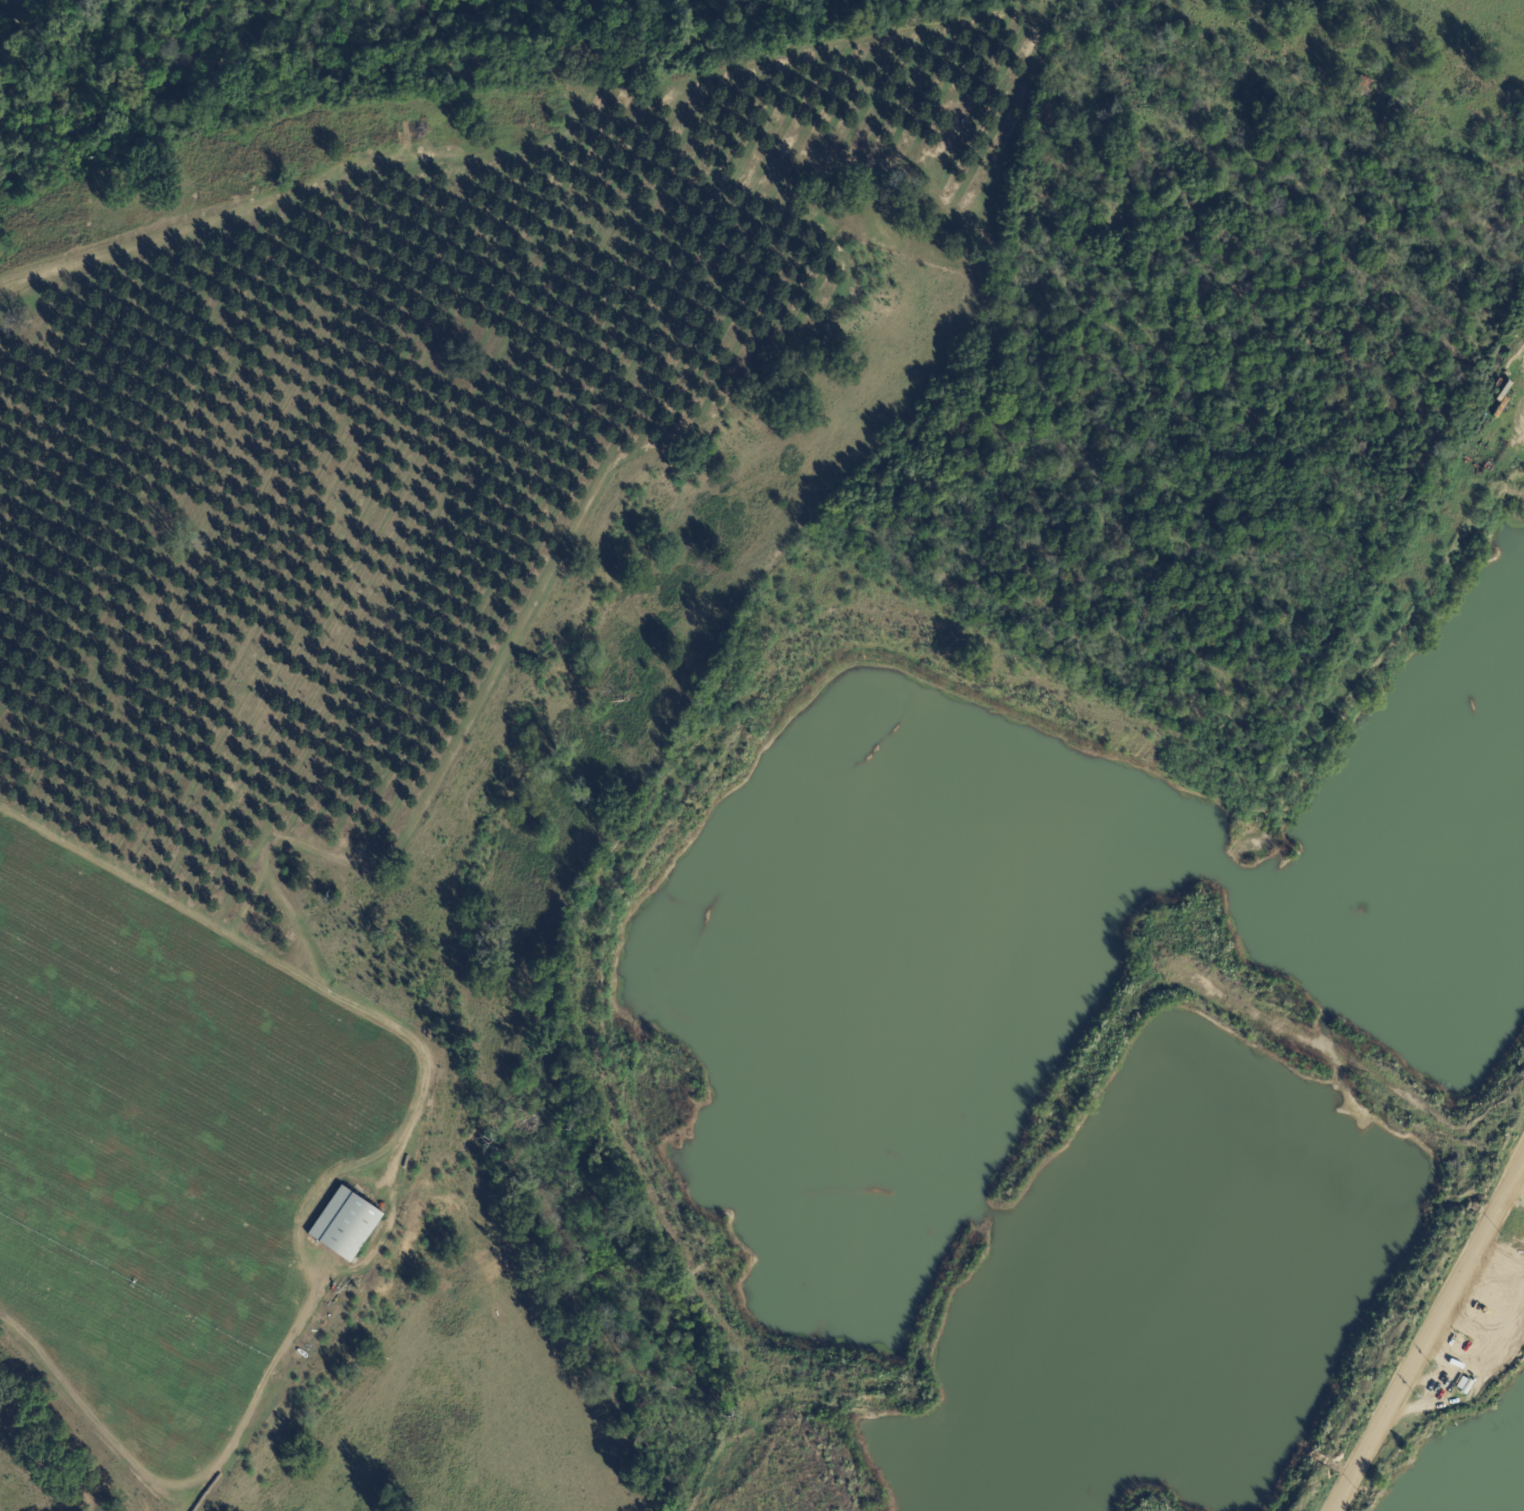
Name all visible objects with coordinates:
building: (1375, 92)
building: (347, 1226)
road: (1429, 1337)
road: (1482, 1385)

